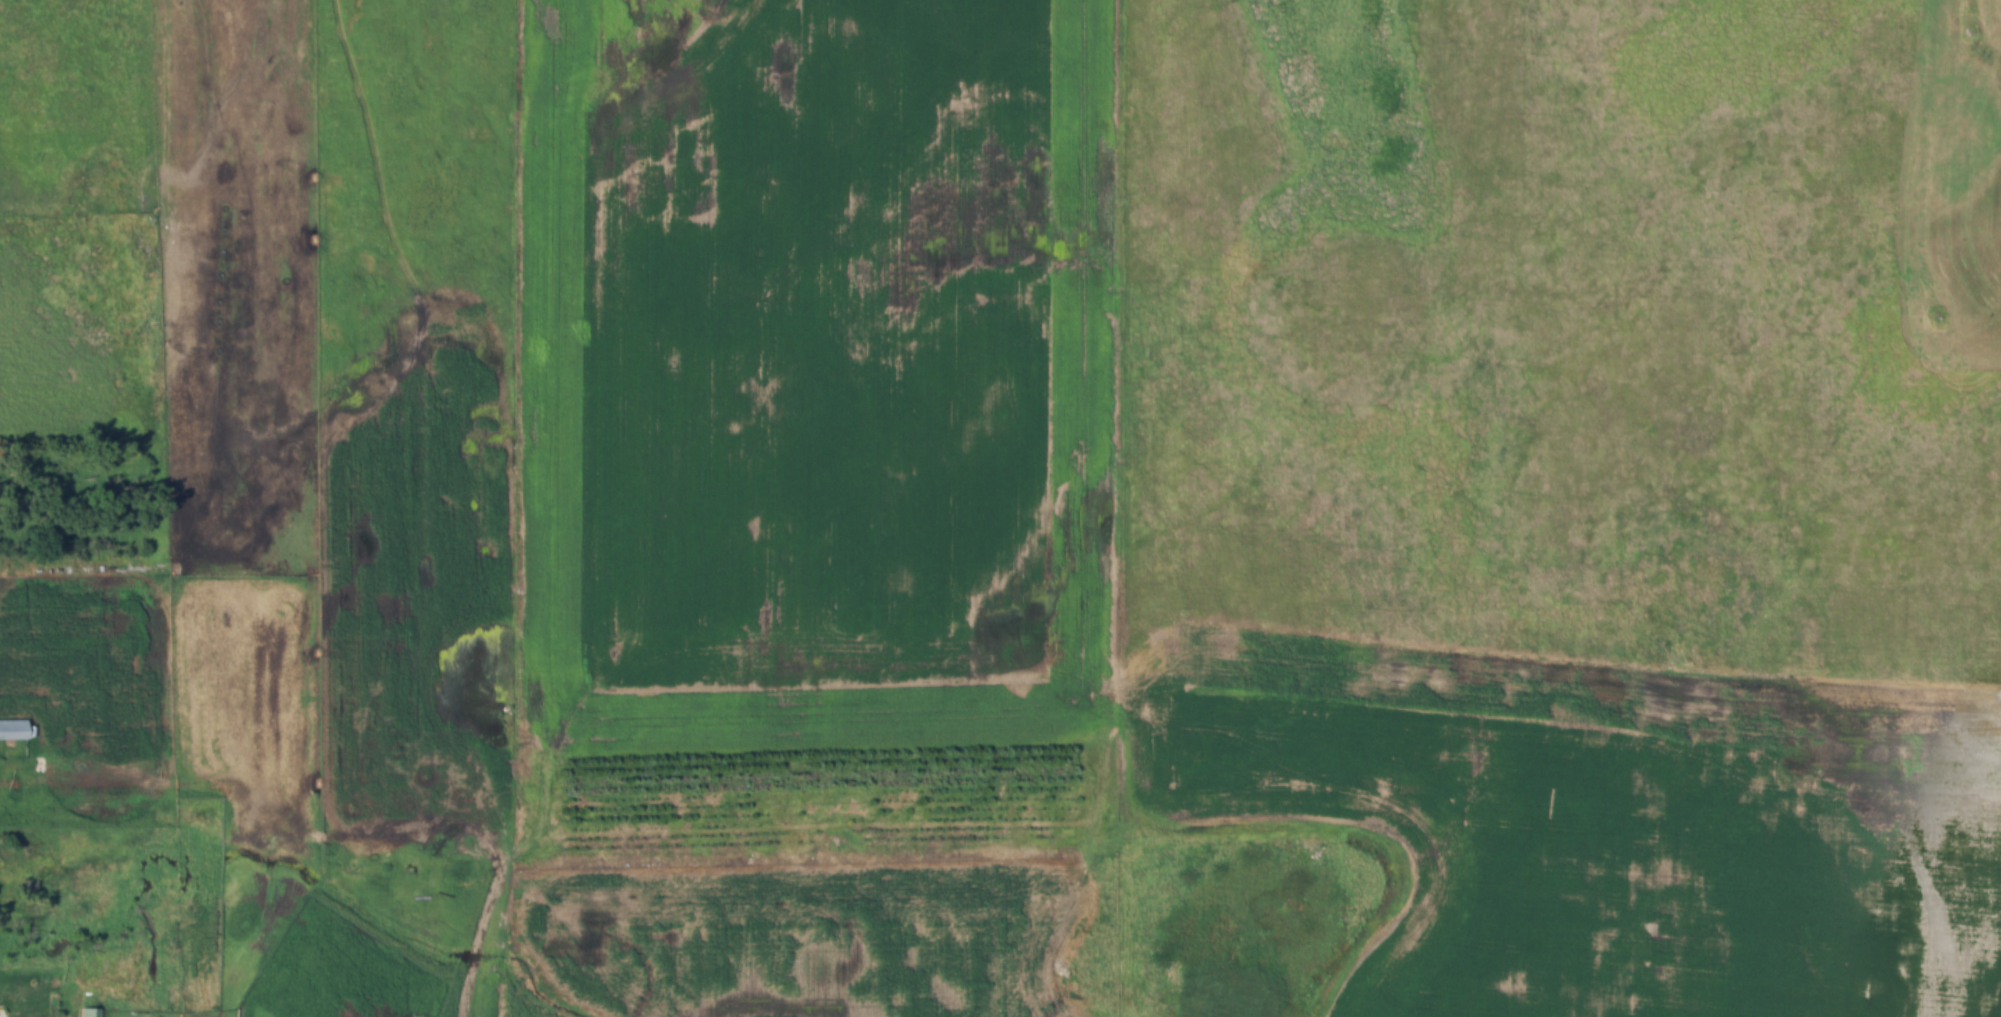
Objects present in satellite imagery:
building: (13, 731)
building: (90, 1013)

